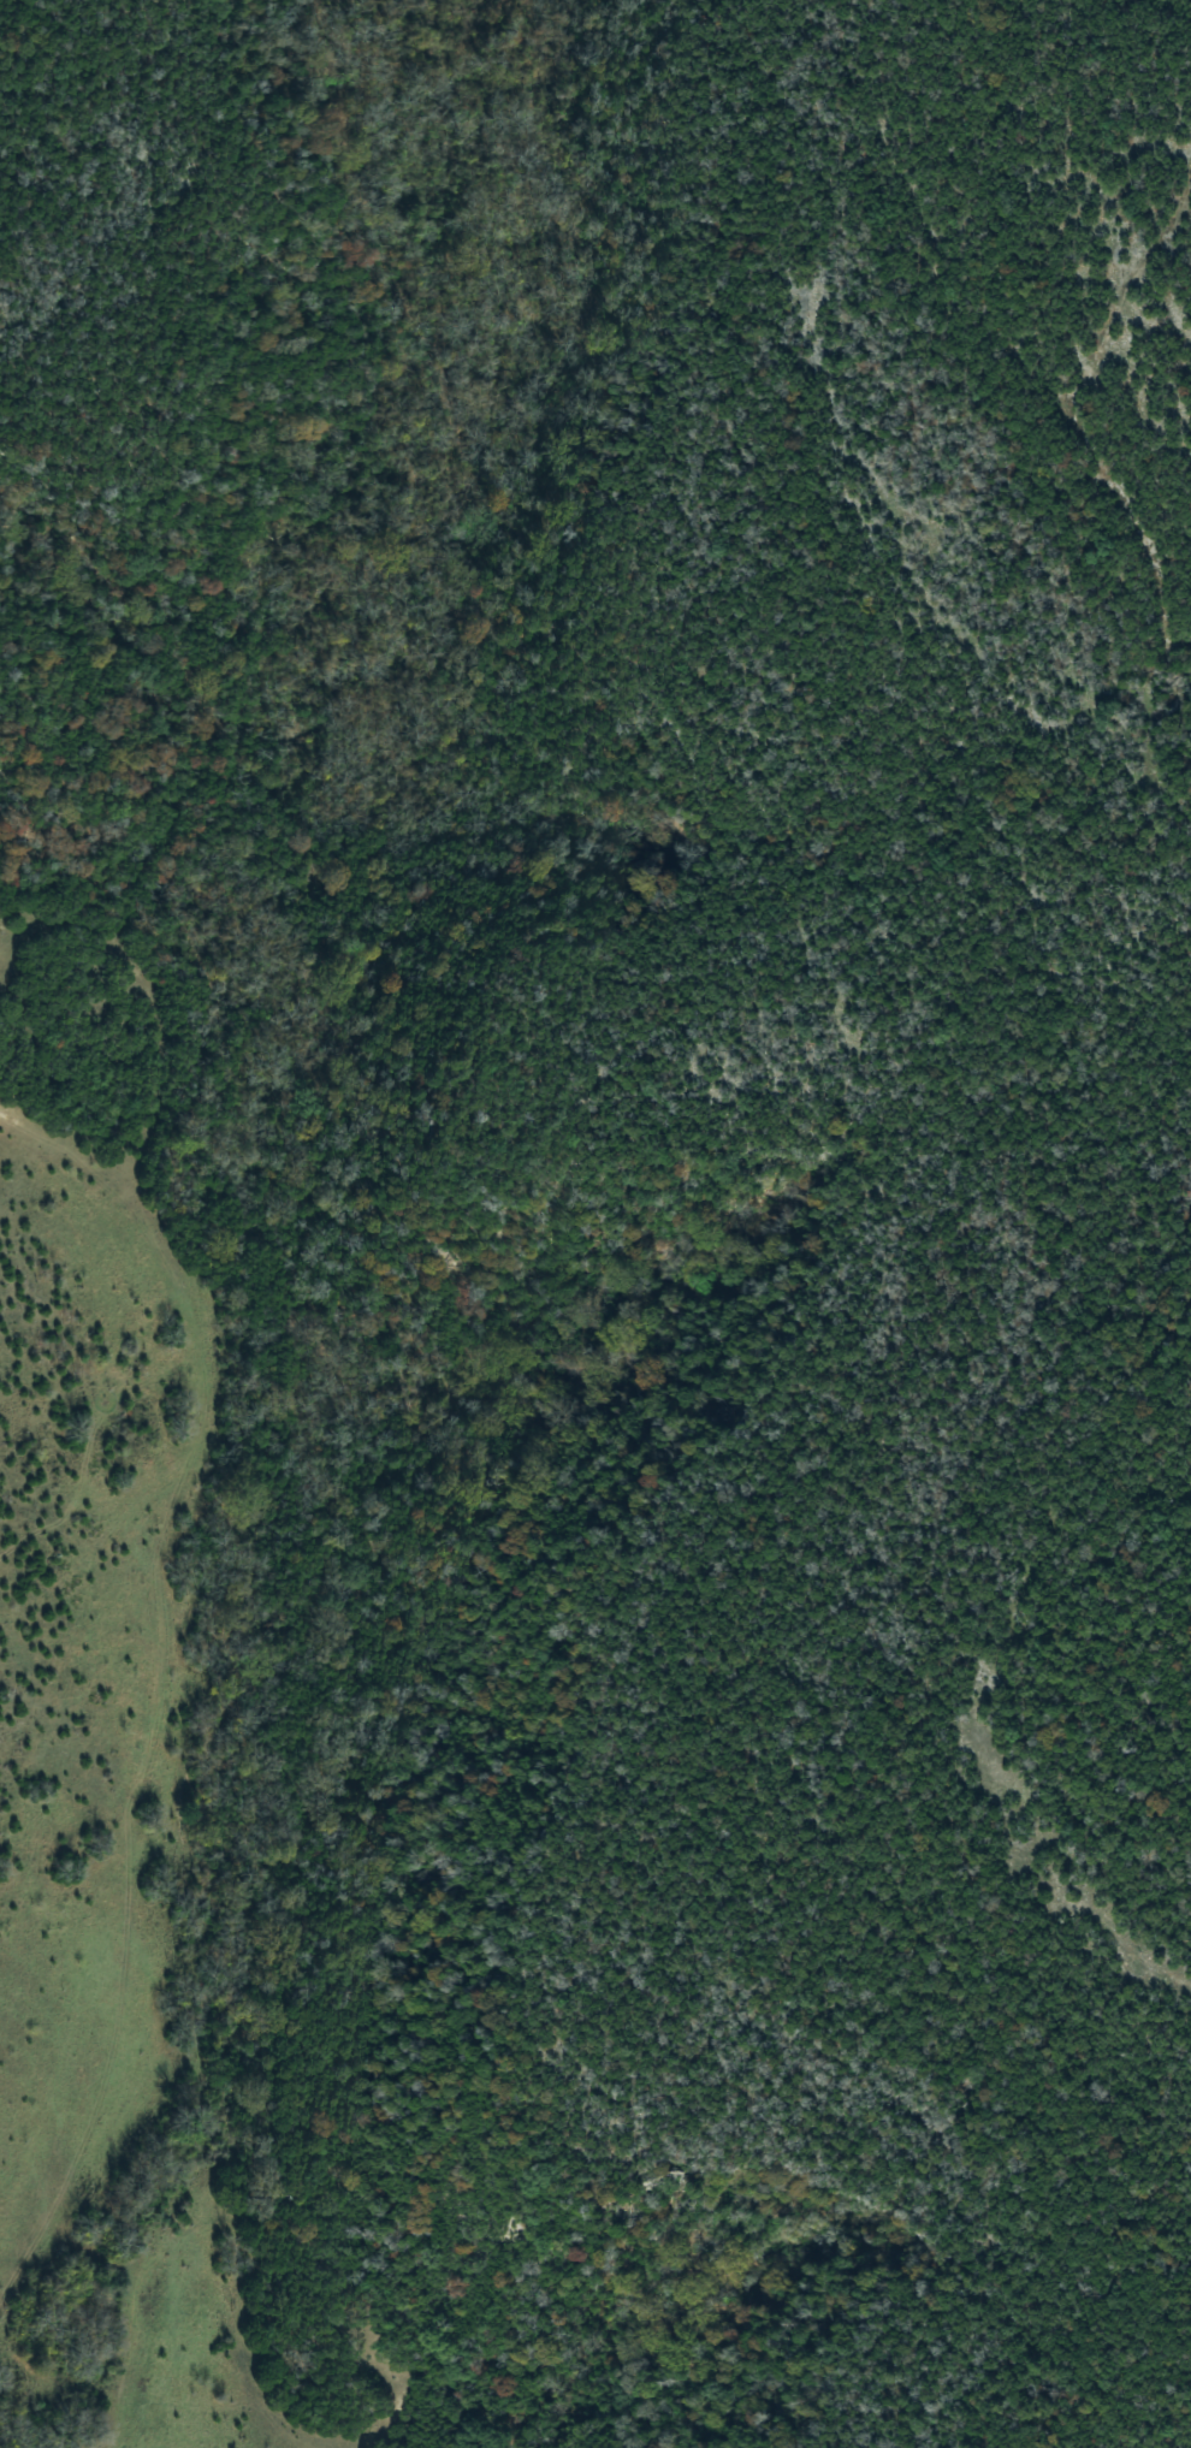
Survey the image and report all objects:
road: (1113, 545)

